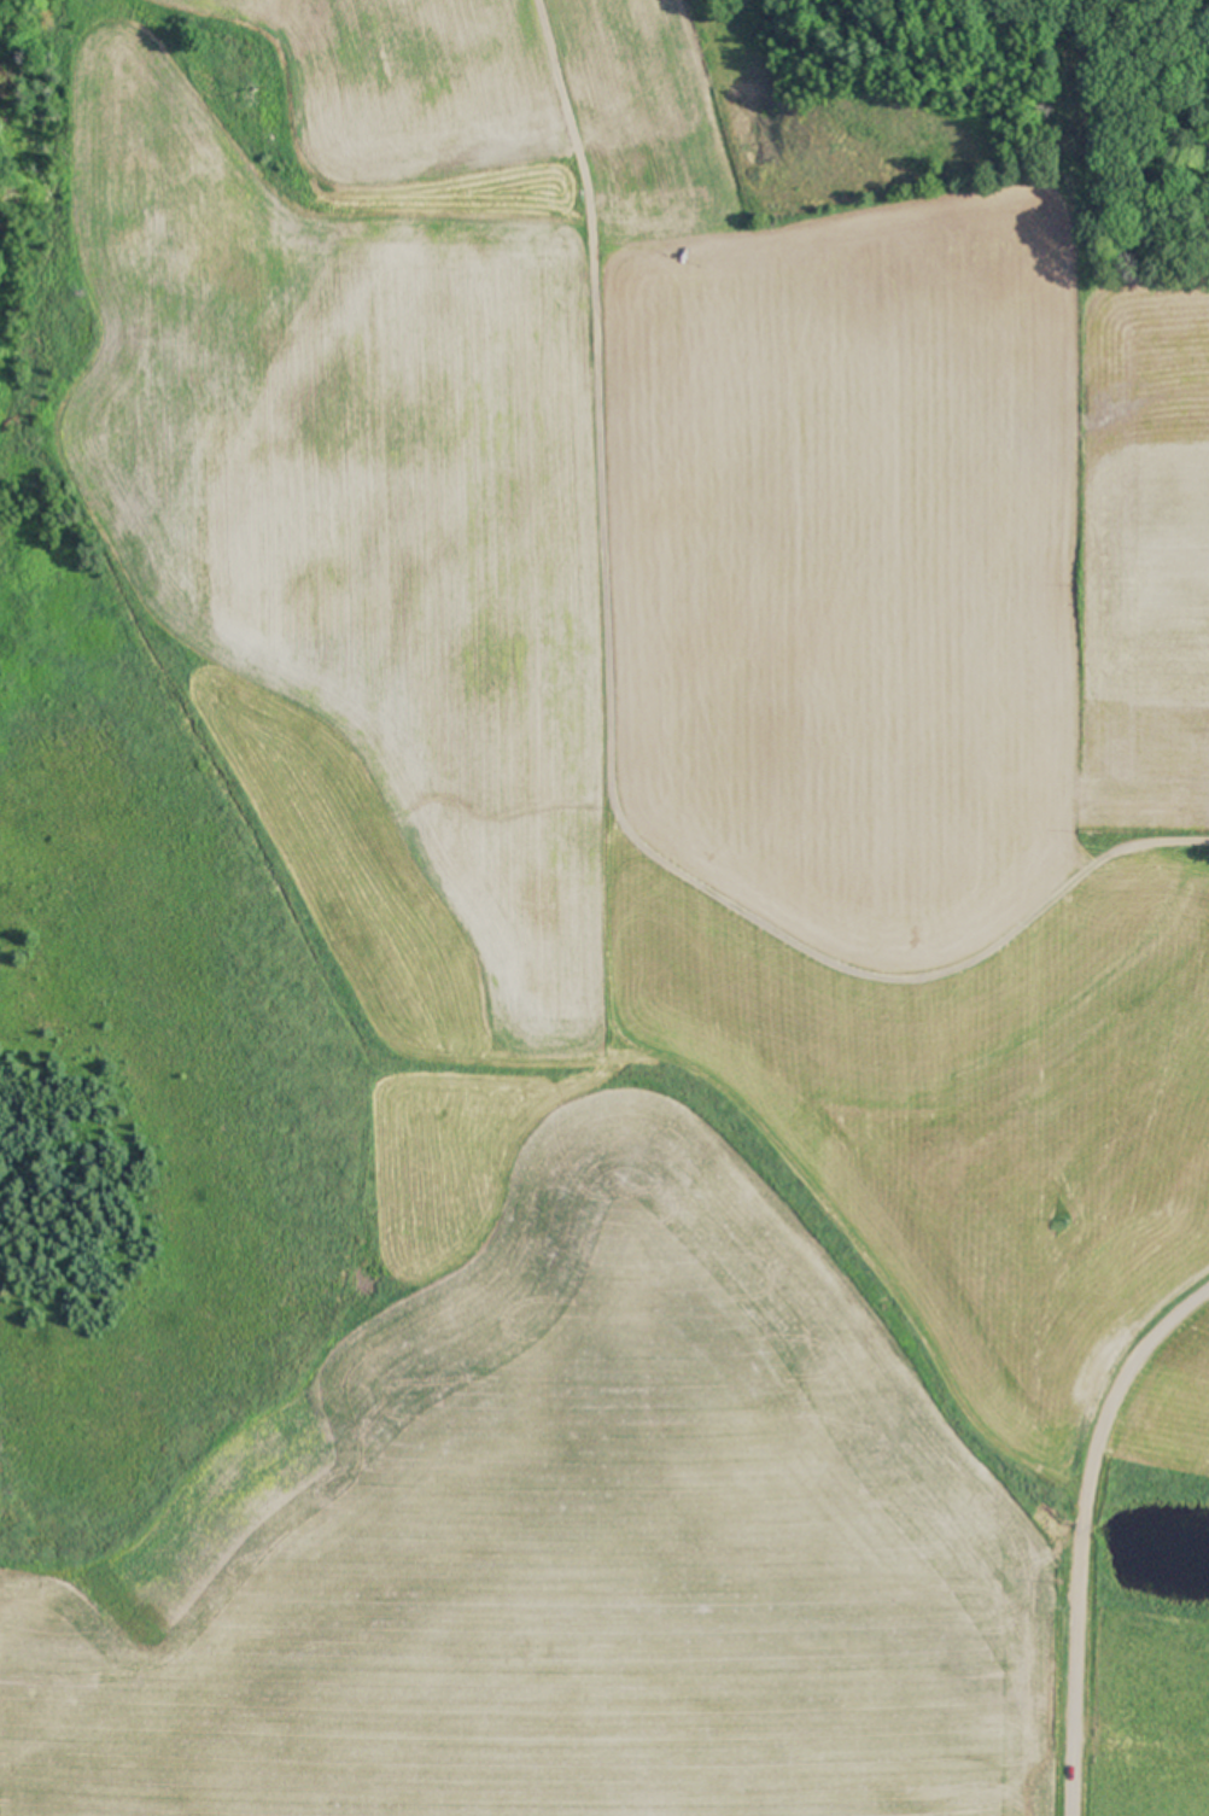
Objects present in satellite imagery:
road: (1133, 1534)

